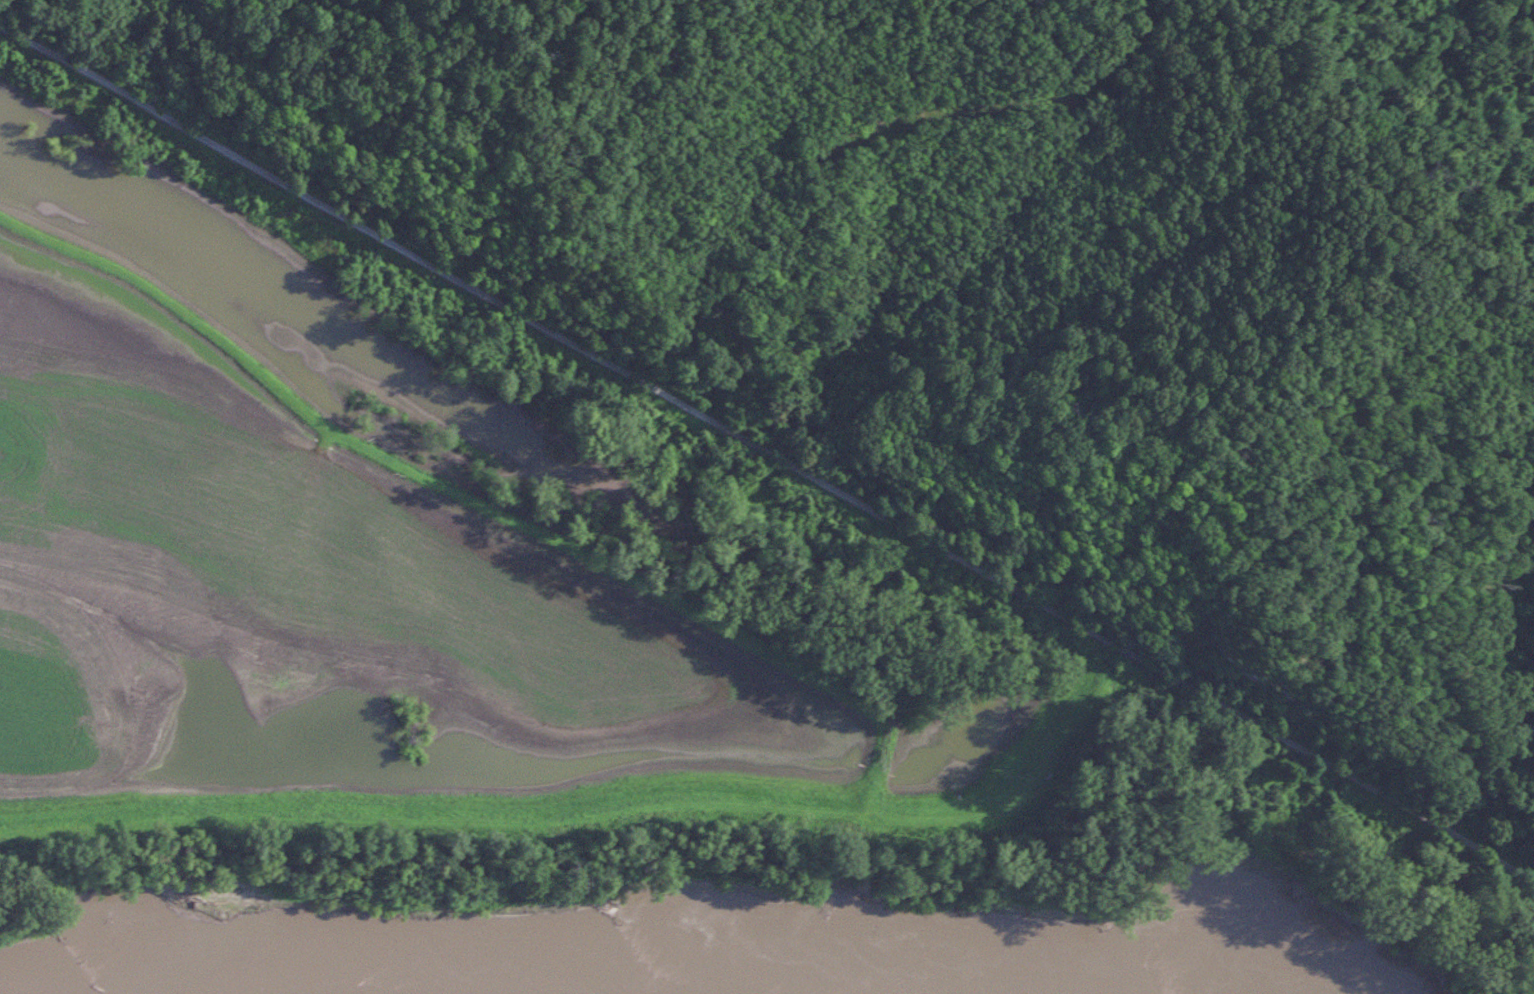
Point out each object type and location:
road: (767, 451)

